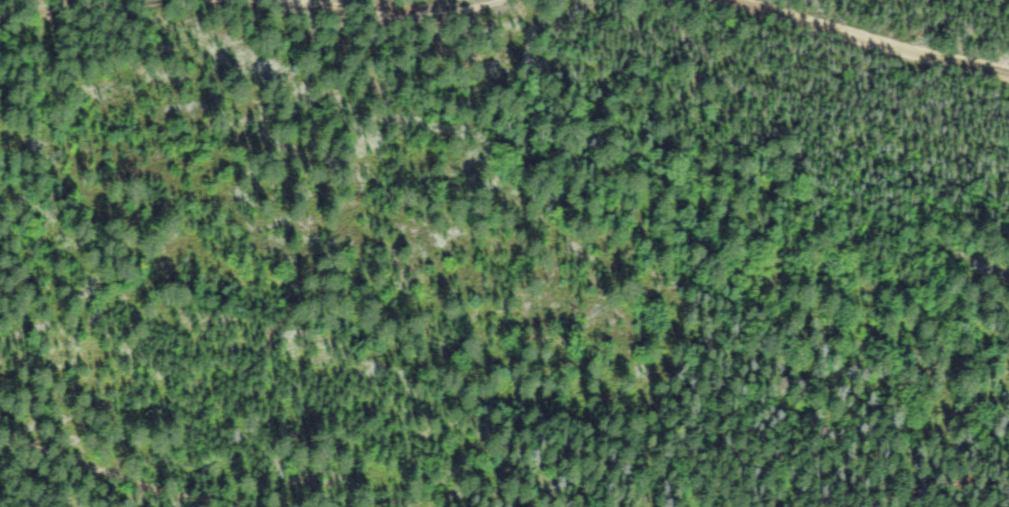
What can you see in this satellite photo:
road: (252, 0)
road: (868, 40)
road: (953, 492)

